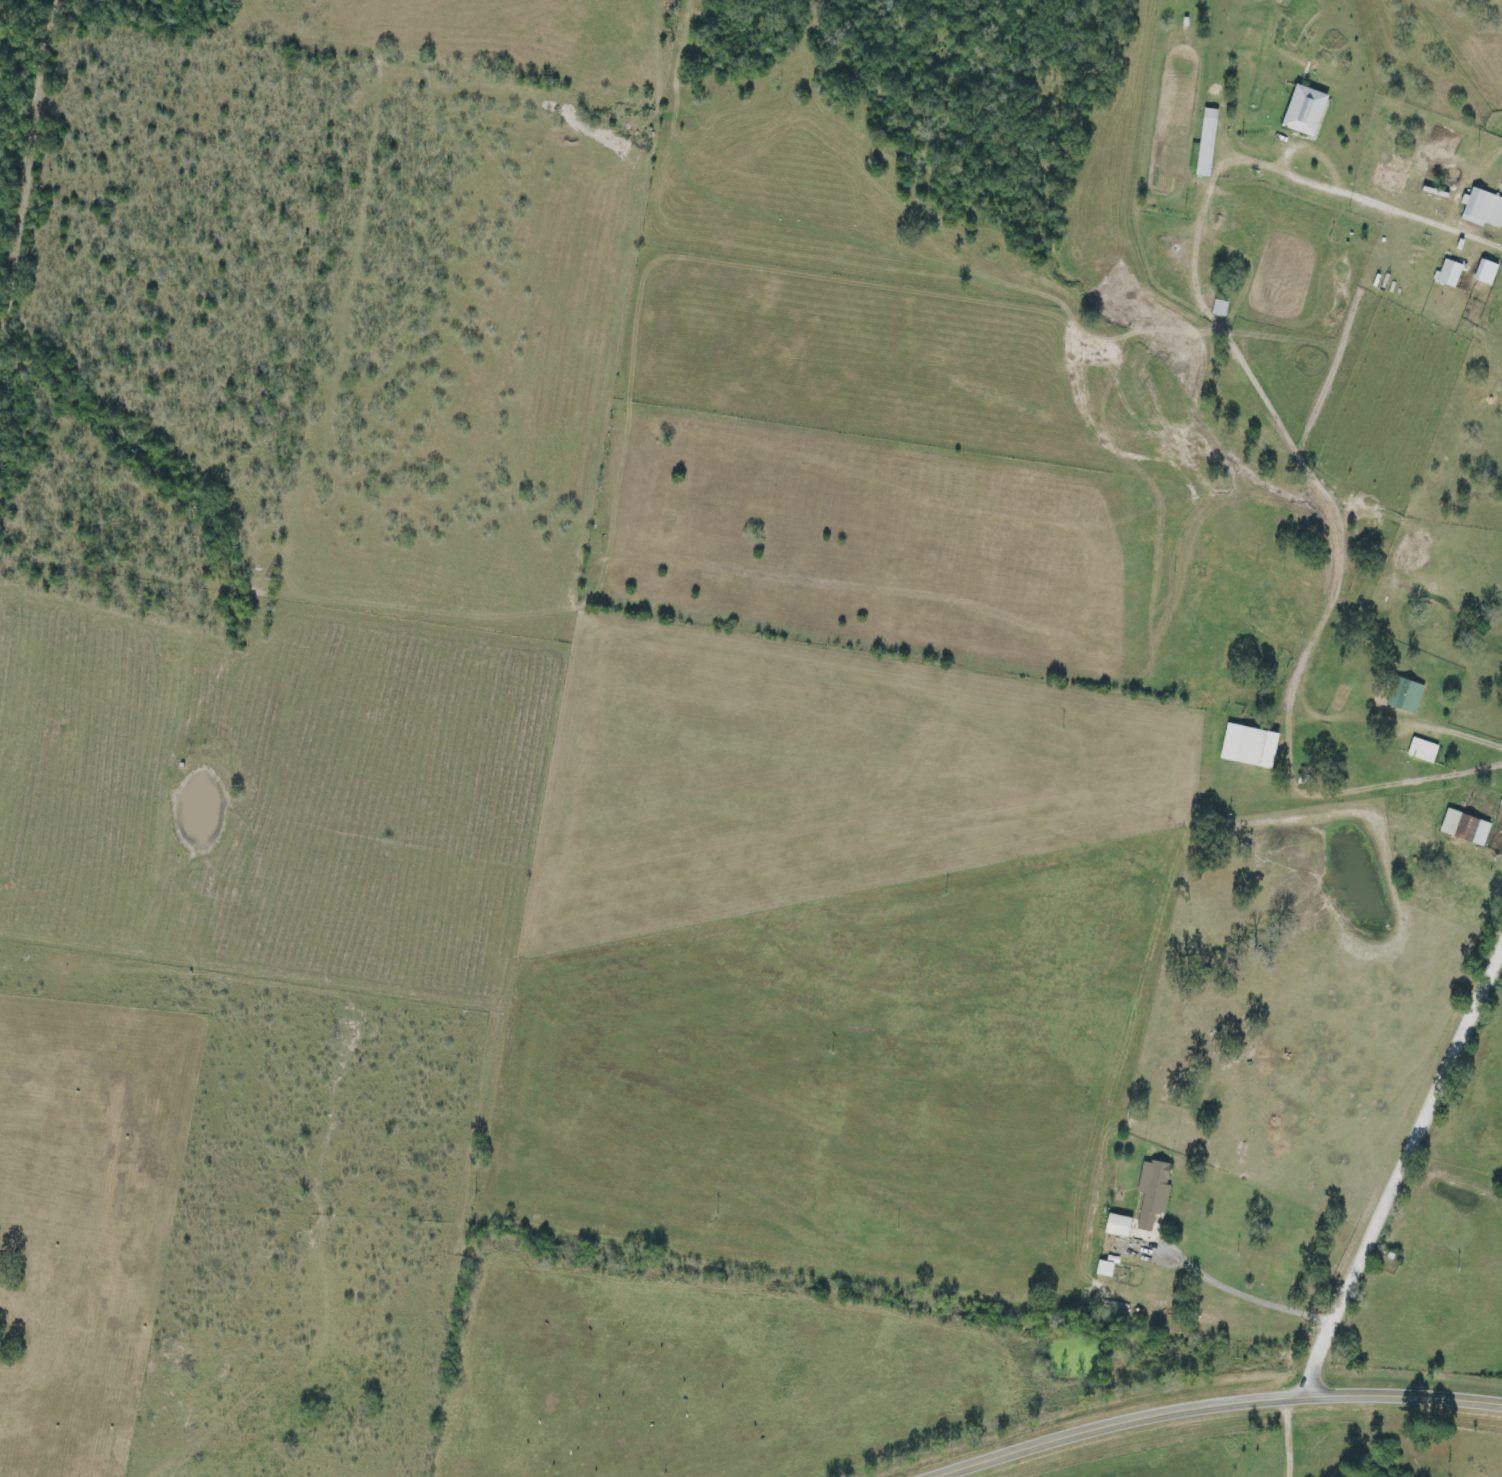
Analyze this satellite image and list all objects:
building: (1303, 111)
building: (1205, 143)
building: (1501, 188)
building: (1482, 209)
building: (1485, 273)
building: (1448, 274)
building: (1404, 695)
building: (1247, 746)
building: (1422, 750)
building: (1464, 828)
road: (1493, 1000)
road: (1403, 1175)
building: (1152, 1193)
building: (1116, 1226)
building: (1105, 1268)
road: (1212, 1405)

